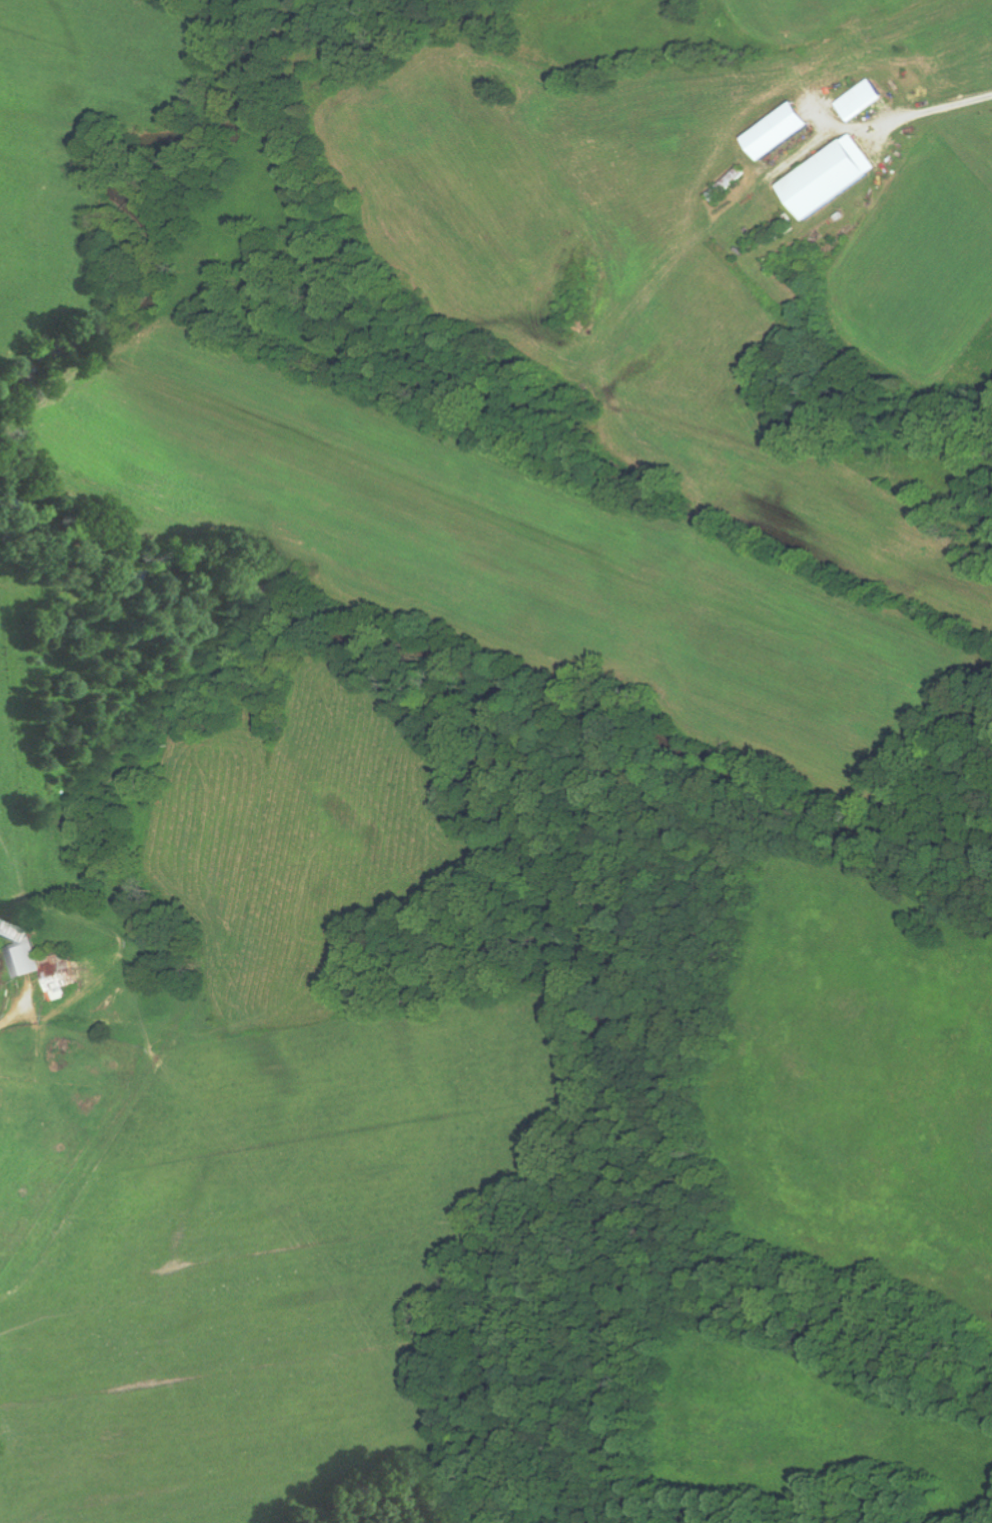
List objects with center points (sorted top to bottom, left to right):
building: (859, 100)
building: (776, 131)
building: (826, 176)
road: (956, 359)
building: (38, 963)

